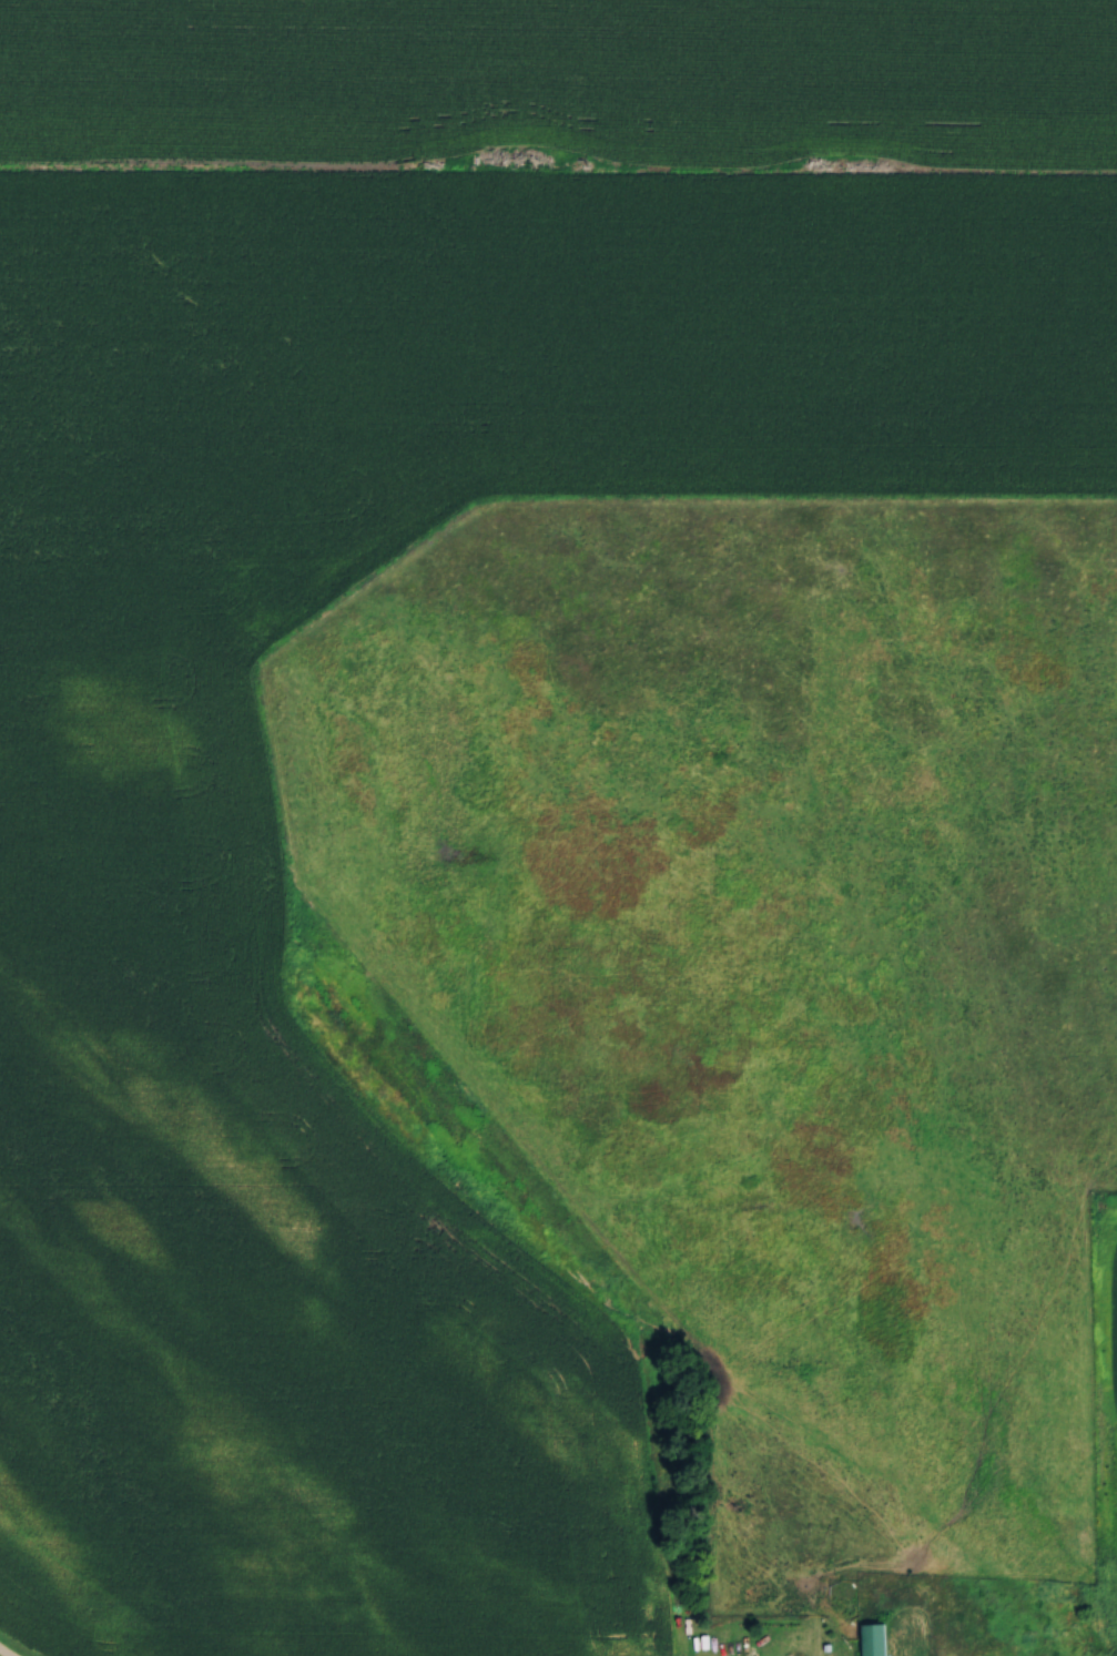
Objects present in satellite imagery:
building: (877, 1638)

